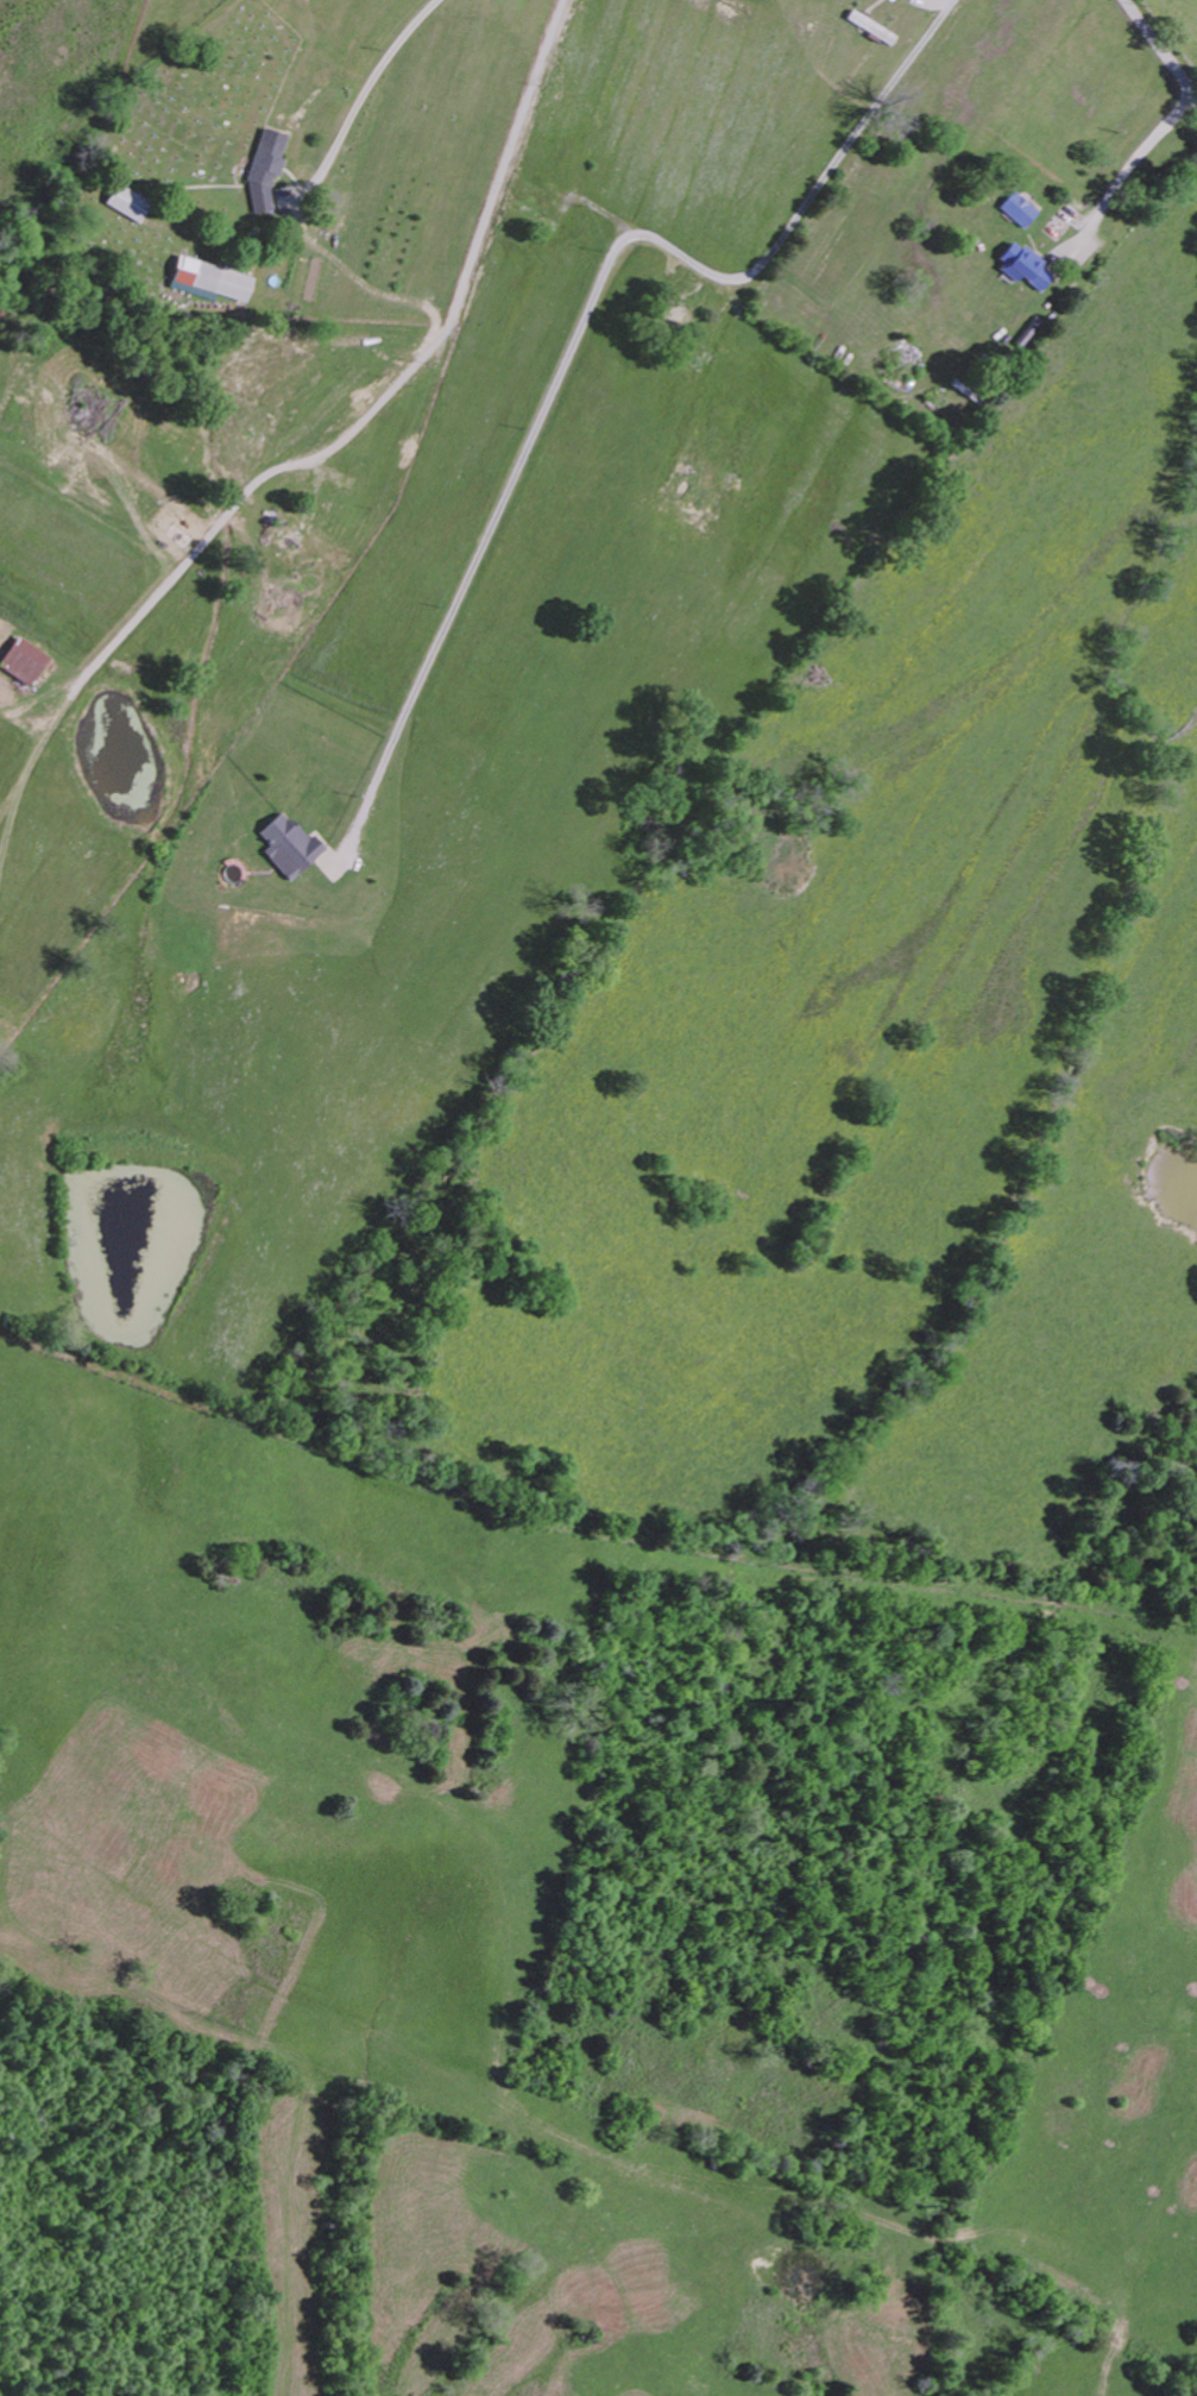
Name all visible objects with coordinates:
road: (1161, 46)
road: (349, 101)
building: (264, 170)
road: (1126, 172)
building: (125, 202)
building: (1018, 209)
building: (1021, 266)
building: (209, 278)
road: (577, 331)
road: (384, 392)
building: (687, 488)
building: (21, 661)
building: (286, 845)

